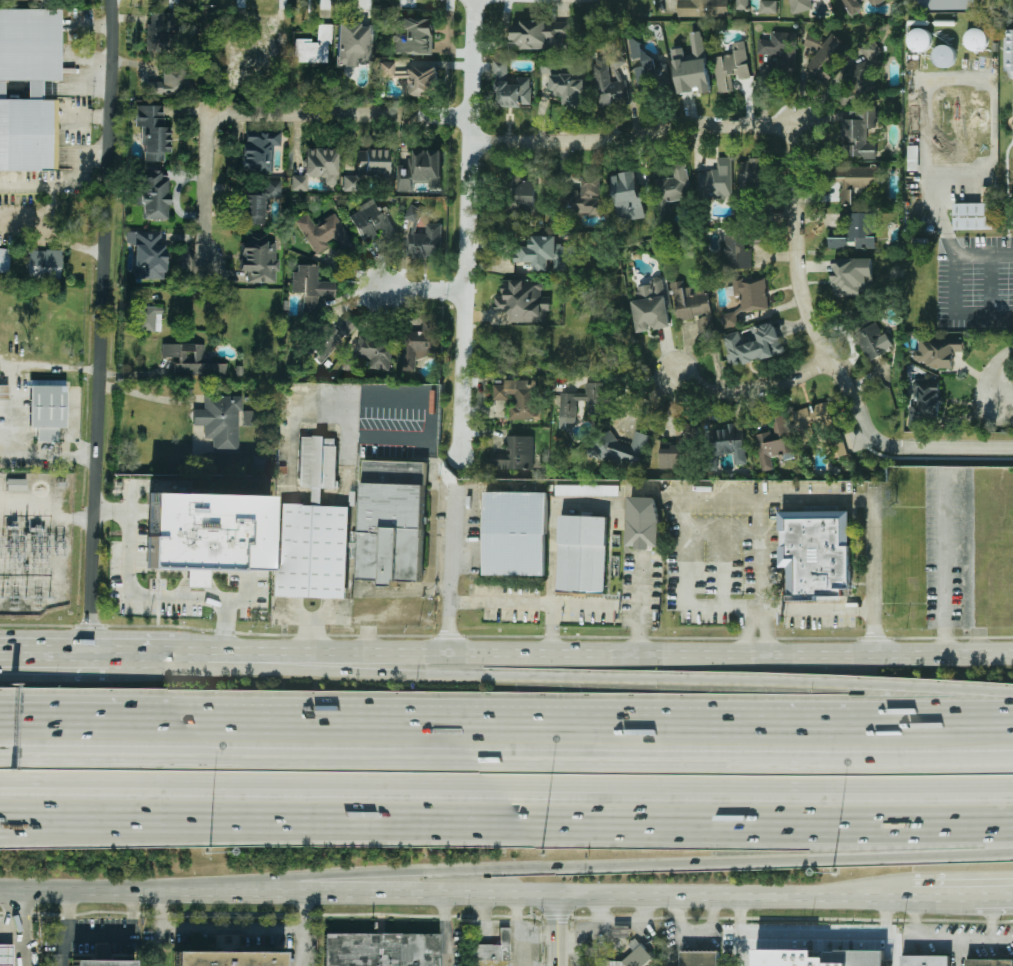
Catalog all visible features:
building: (876, 2)
building: (30, 4)
building: (742, 4)
building: (944, 4)
building: (800, 5)
building: (768, 6)
building: (852, 6)
building: (702, 8)
building: (162, 32)
building: (538, 33)
building: (414, 36)
building: (920, 39)
building: (976, 39)
building: (353, 45)
building: (313, 47)
building: (870, 48)
building: (779, 49)
building: (1008, 50)
building: (822, 55)
building: (249, 56)
building: (691, 66)
building: (731, 67)
building: (499, 68)
building: (648, 69)
building: (412, 78)
building: (609, 79)
building: (170, 81)
building: (569, 87)
building: (28, 88)
building: (513, 92)
park: (1004, 112)
road: (340, 116)
building: (153, 132)
building: (860, 133)
road: (634, 138)
building: (260, 152)
building: (372, 162)
road: (1005, 165)
building: (316, 168)
building: (420, 169)
building: (751, 173)
building: (855, 179)
building: (715, 180)
road: (59, 183)
building: (349, 183)
building: (672, 187)
road: (206, 190)
building: (152, 193)
building: (519, 193)
building: (628, 195)
building: (585, 197)
building: (258, 204)
building: (414, 213)
building: (974, 213)
building: (371, 221)
road: (468, 230)
building: (857, 232)
building: (324, 233)
building: (426, 241)
building: (735, 250)
building: (546, 253)
building: (147, 254)
building: (258, 258)
building: (4, 260)
building: (44, 264)
building: (850, 275)
parking lot: (975, 281)
road: (954, 282)
road: (989, 282)
building: (310, 285)
road: (425, 290)
building: (751, 292)
building: (523, 300)
building: (693, 304)
building: (651, 305)
building: (730, 318)
building: (148, 319)
road: (102, 327)
building: (330, 339)
building: (873, 341)
building: (419, 343)
building: (753, 344)
building: (375, 350)
building: (939, 351)
road: (827, 357)
building: (190, 360)
road: (5, 367)
road: (40, 367)
road: (994, 373)
road: (752, 388)
building: (3, 392)
road: (142, 394)
building: (519, 397)
building: (924, 402)
building: (597, 407)
building: (46, 411)
building: (219, 421)
building: (810, 421)
road: (8, 428)
building: (730, 441)
building: (774, 441)
building: (838, 446)
building: (622, 448)
building: (515, 453)
building: (670, 455)
road: (55, 457)
building: (15, 485)
building: (587, 489)
road: (760, 501)
building: (388, 521)
building: (642, 521)
building: (515, 532)
building: (206, 534)
power substation: (34, 542)
road: (552, 546)
building: (313, 550)
road: (678, 550)
building: (815, 553)
building: (581, 554)
road: (944, 560)
road: (872, 567)
road: (450, 581)
road: (147, 599)
road: (530, 602)
road: (640, 605)
road: (817, 607)
road: (747, 633)
road: (767, 633)
road: (599, 653)
road: (55, 654)
road: (148, 654)
road: (599, 676)
road: (95, 719)
road: (95, 724)
road: (601, 730)
road: (506, 761)
road: (506, 782)
road: (506, 820)
road: (143, 825)
road: (564, 868)
road: (303, 888)
road: (57, 891)
road: (160, 892)
road: (943, 893)
road: (993, 893)
road: (513, 897)
road: (160, 910)
road: (19, 911)
road: (302, 912)
road: (912, 916)
road: (992, 916)
road: (68, 928)
road: (231, 928)
road: (9, 931)
road: (445, 931)
road: (559, 931)
road: (815, 934)
road: (123, 936)
road: (952, 939)
road: (159, 946)
road: (301, 948)
road: (19, 949)
building: (381, 949)
building: (495, 949)
building: (6, 956)
building: (633, 956)
building: (700, 958)
building: (818, 958)
building: (925, 960)
building: (228, 961)
building: (990, 962)
building: (104, 965)

